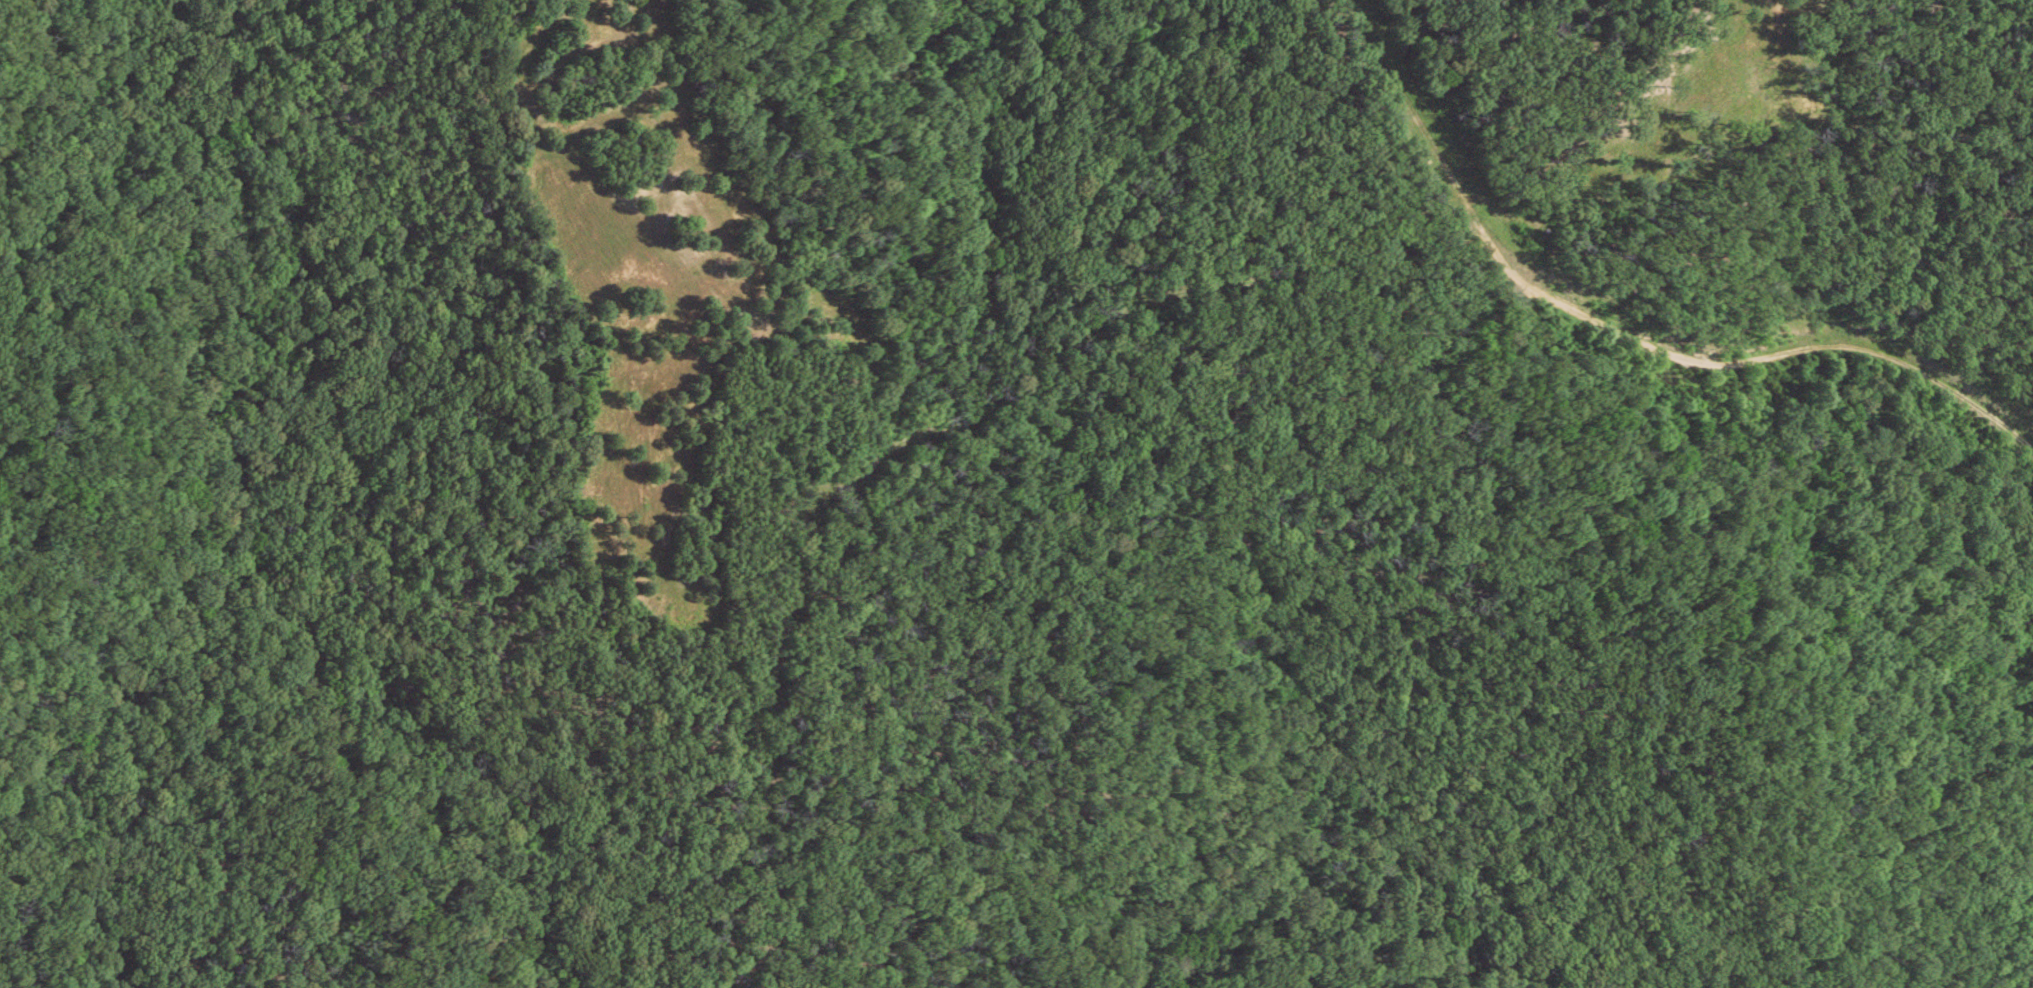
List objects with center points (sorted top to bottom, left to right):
road: (1623, 347)

